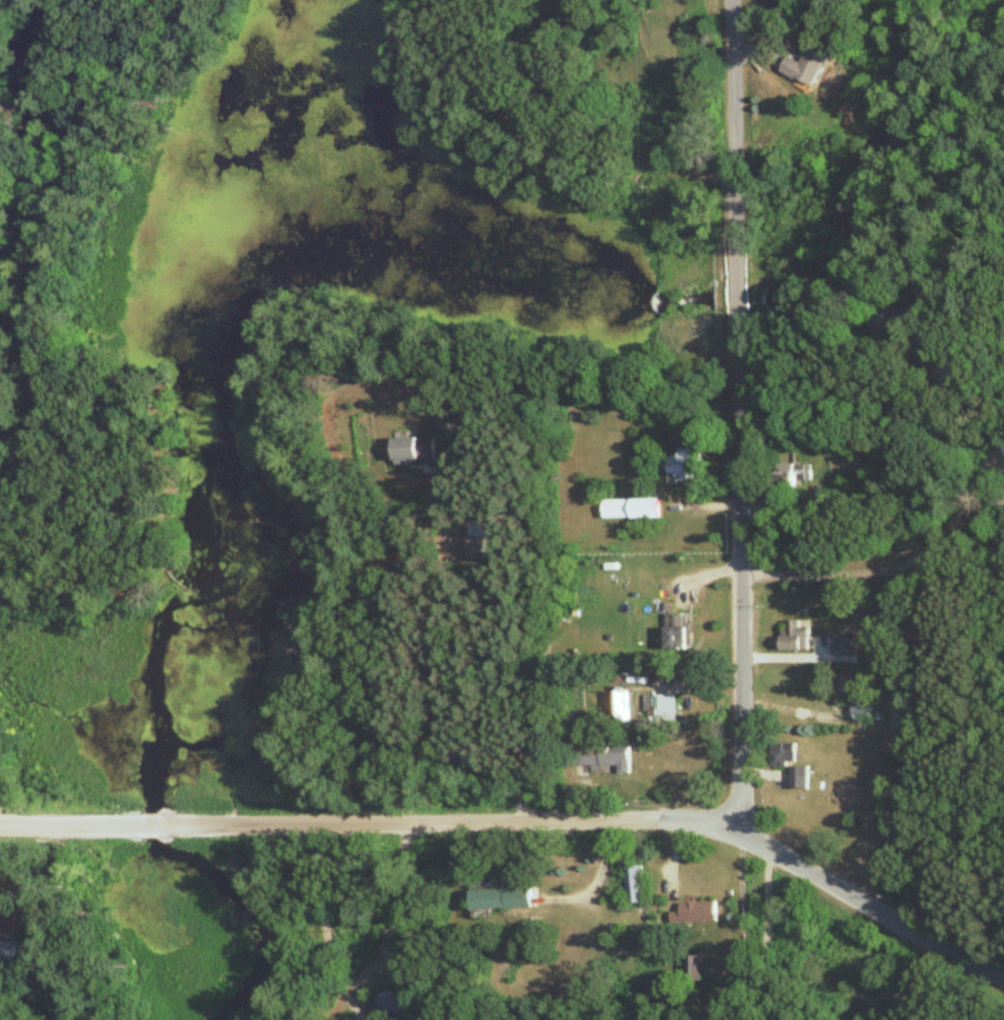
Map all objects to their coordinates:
road: (731, 25)
road: (758, 51)
road: (770, 55)
building: (804, 68)
road: (581, 139)
road: (736, 276)
building: (892, 321)
building: (946, 376)
building: (1002, 444)
building: (412, 451)
building: (684, 466)
building: (794, 476)
road: (701, 503)
building: (629, 510)
road: (879, 570)
building: (676, 632)
building: (791, 636)
building: (838, 689)
building: (619, 706)
building: (661, 707)
building: (599, 755)
building: (789, 763)
road: (738, 816)
road: (517, 823)
road: (147, 825)
building: (635, 885)
building: (488, 899)
building: (694, 913)
road: (744, 923)
road: (325, 924)
road: (385, 926)
building: (11, 953)
building: (691, 968)

